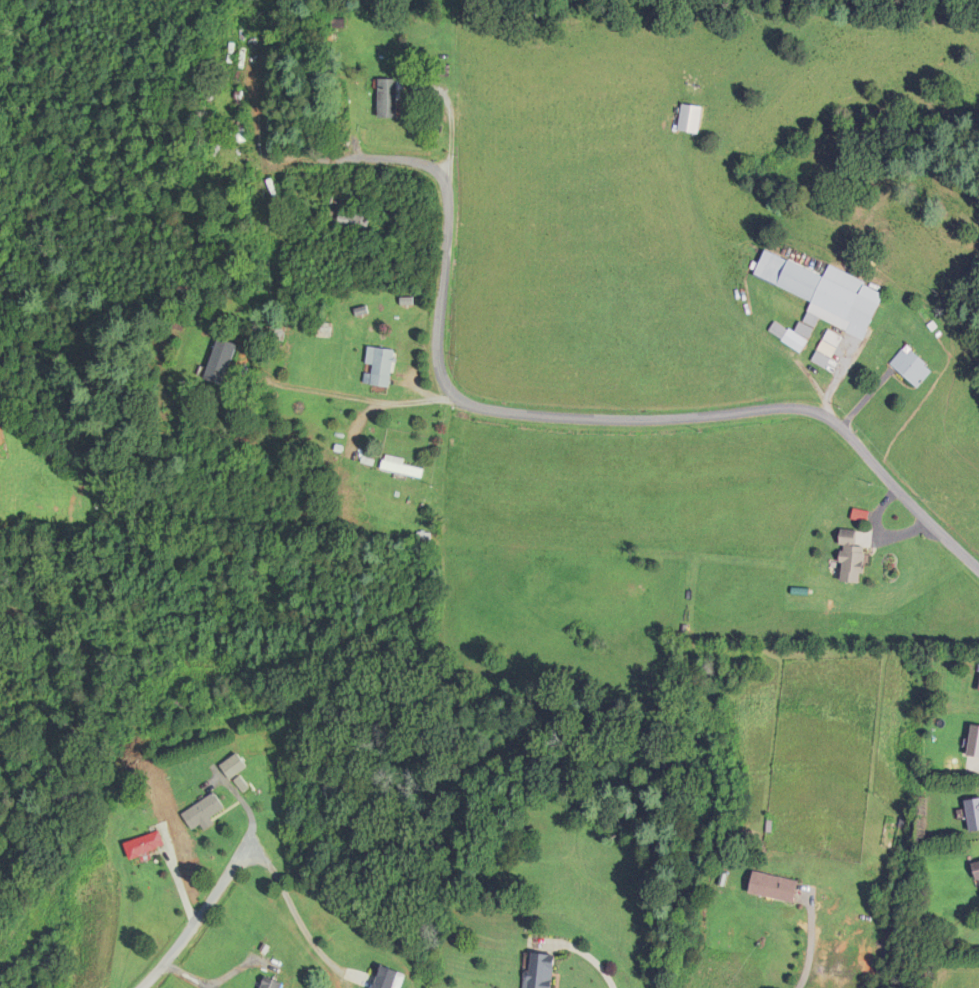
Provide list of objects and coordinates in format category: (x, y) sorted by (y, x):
building: (389, 101)
building: (692, 120)
building: (241, 132)
building: (354, 224)
building: (828, 294)
building: (277, 332)
building: (223, 364)
building: (380, 367)
building: (916, 370)
road: (361, 401)
road: (559, 418)
building: (401, 468)
building: (854, 561)
building: (975, 741)
building: (235, 766)
building: (206, 812)
building: (974, 815)
building: (146, 845)
building: (978, 876)
building: (776, 887)
road: (295, 910)
road: (187, 936)
road: (809, 950)
building: (542, 971)
road: (189, 975)
building: (390, 978)
building: (273, 983)

